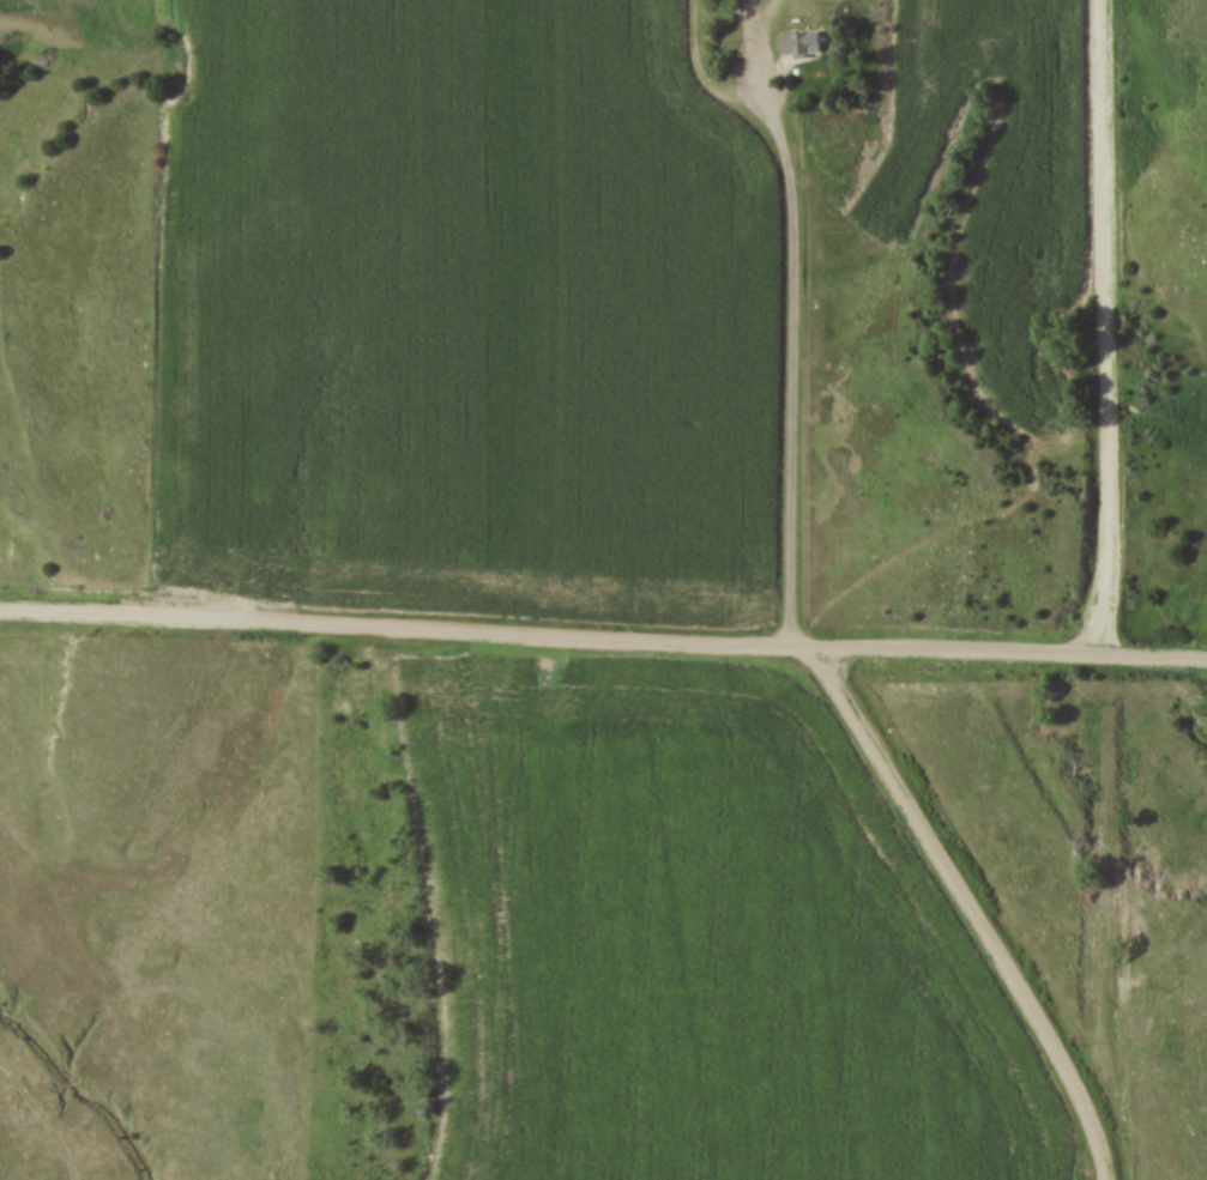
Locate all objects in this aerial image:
building: (799, 46)
road: (1108, 328)
road: (795, 341)
road: (603, 636)
road: (971, 907)

